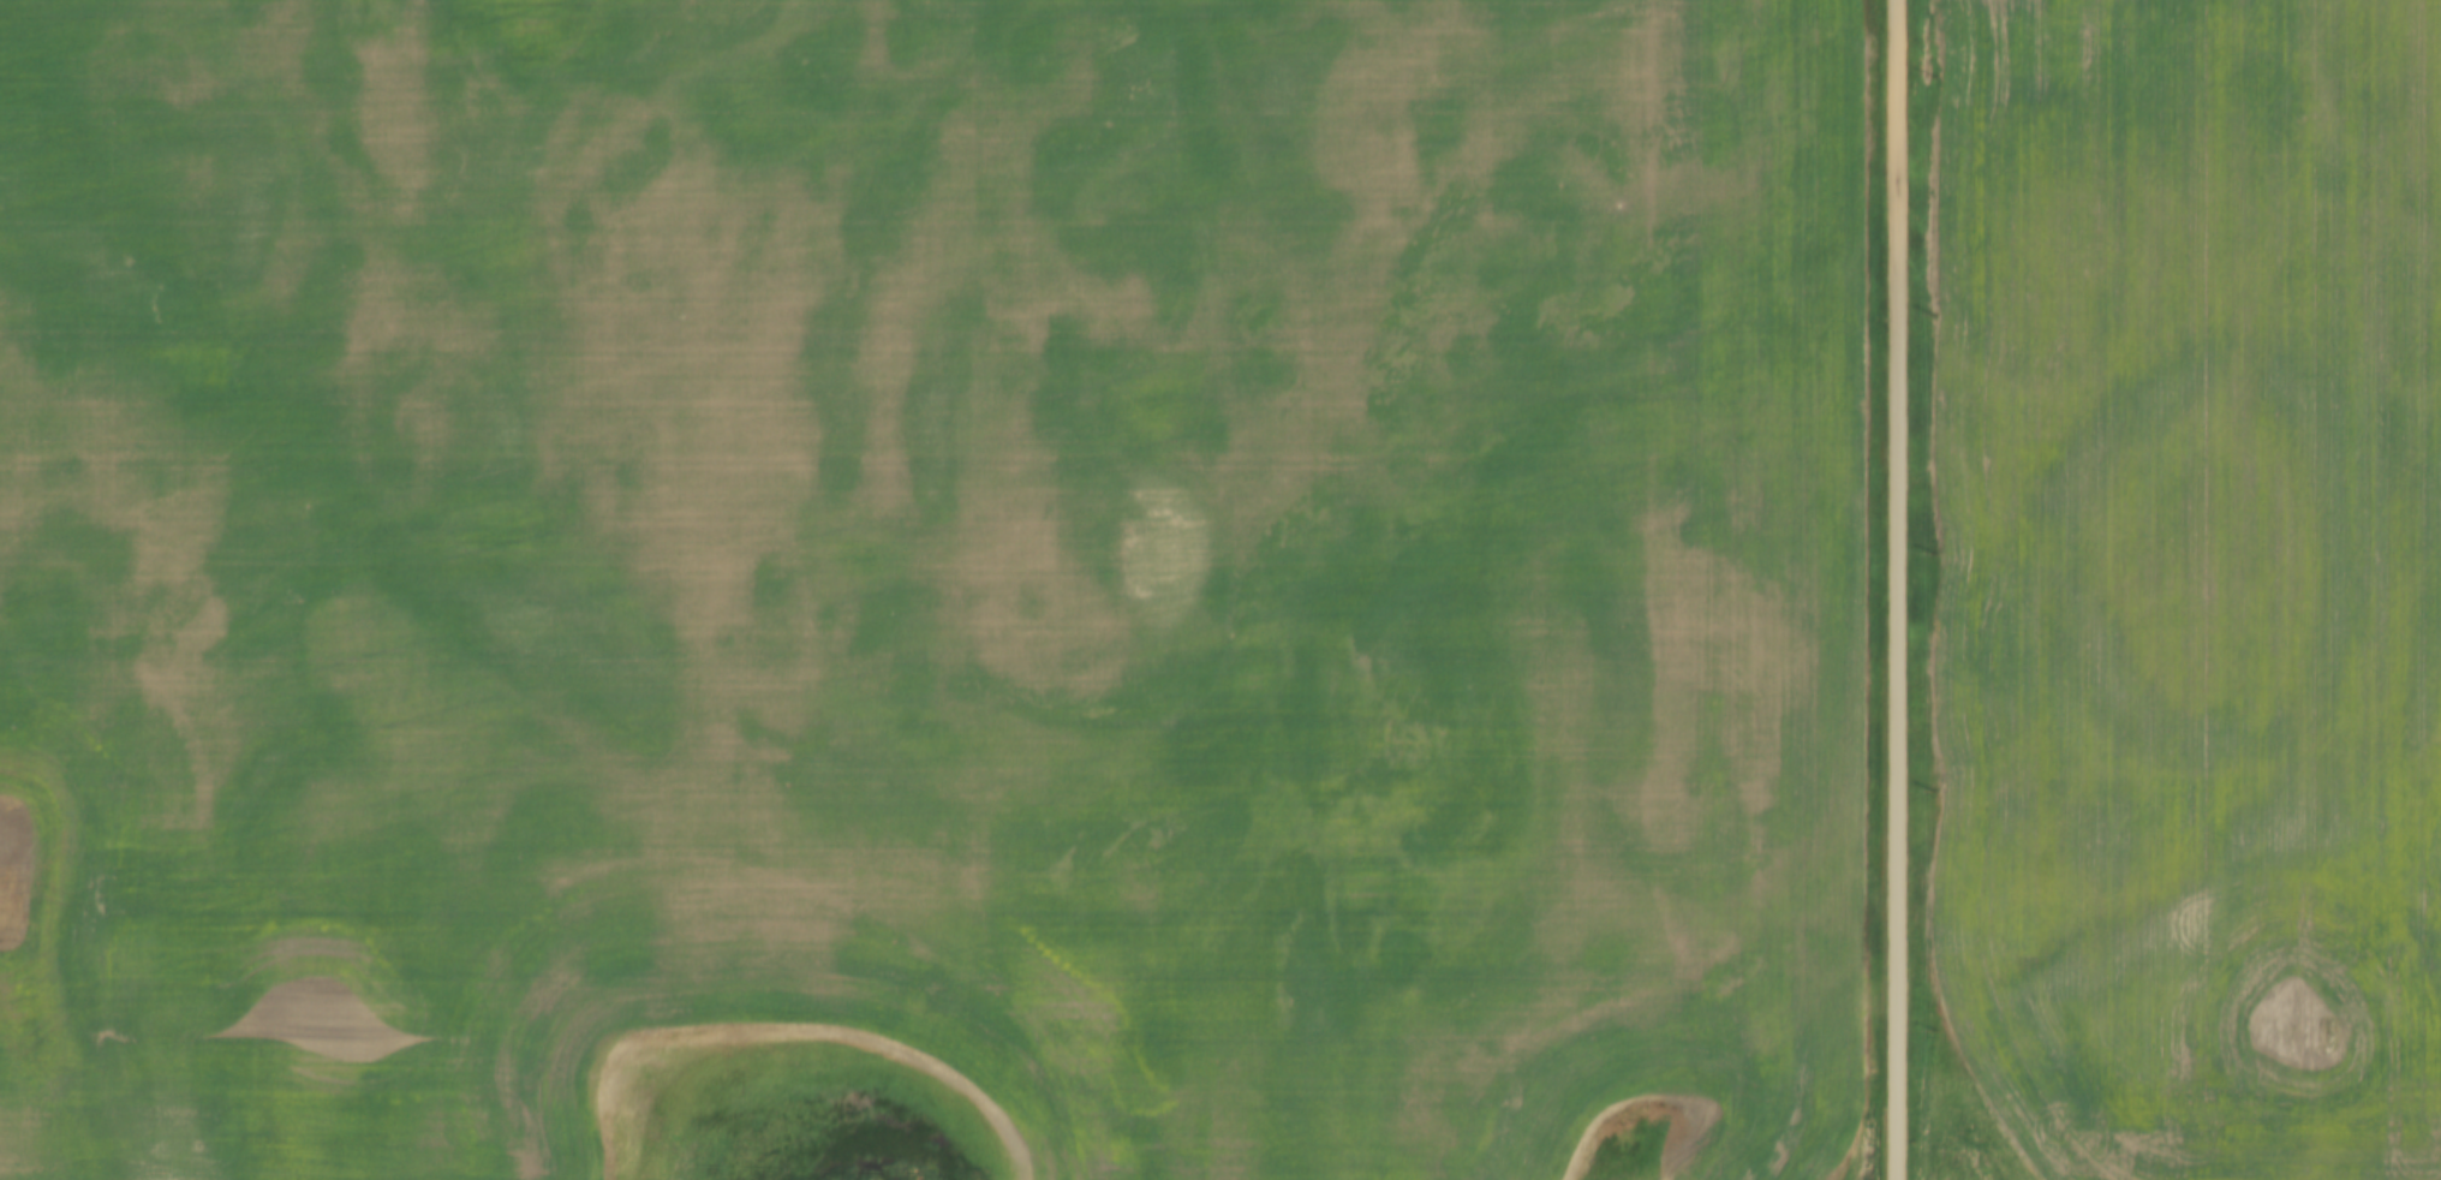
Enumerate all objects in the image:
road: (1894, 590)

